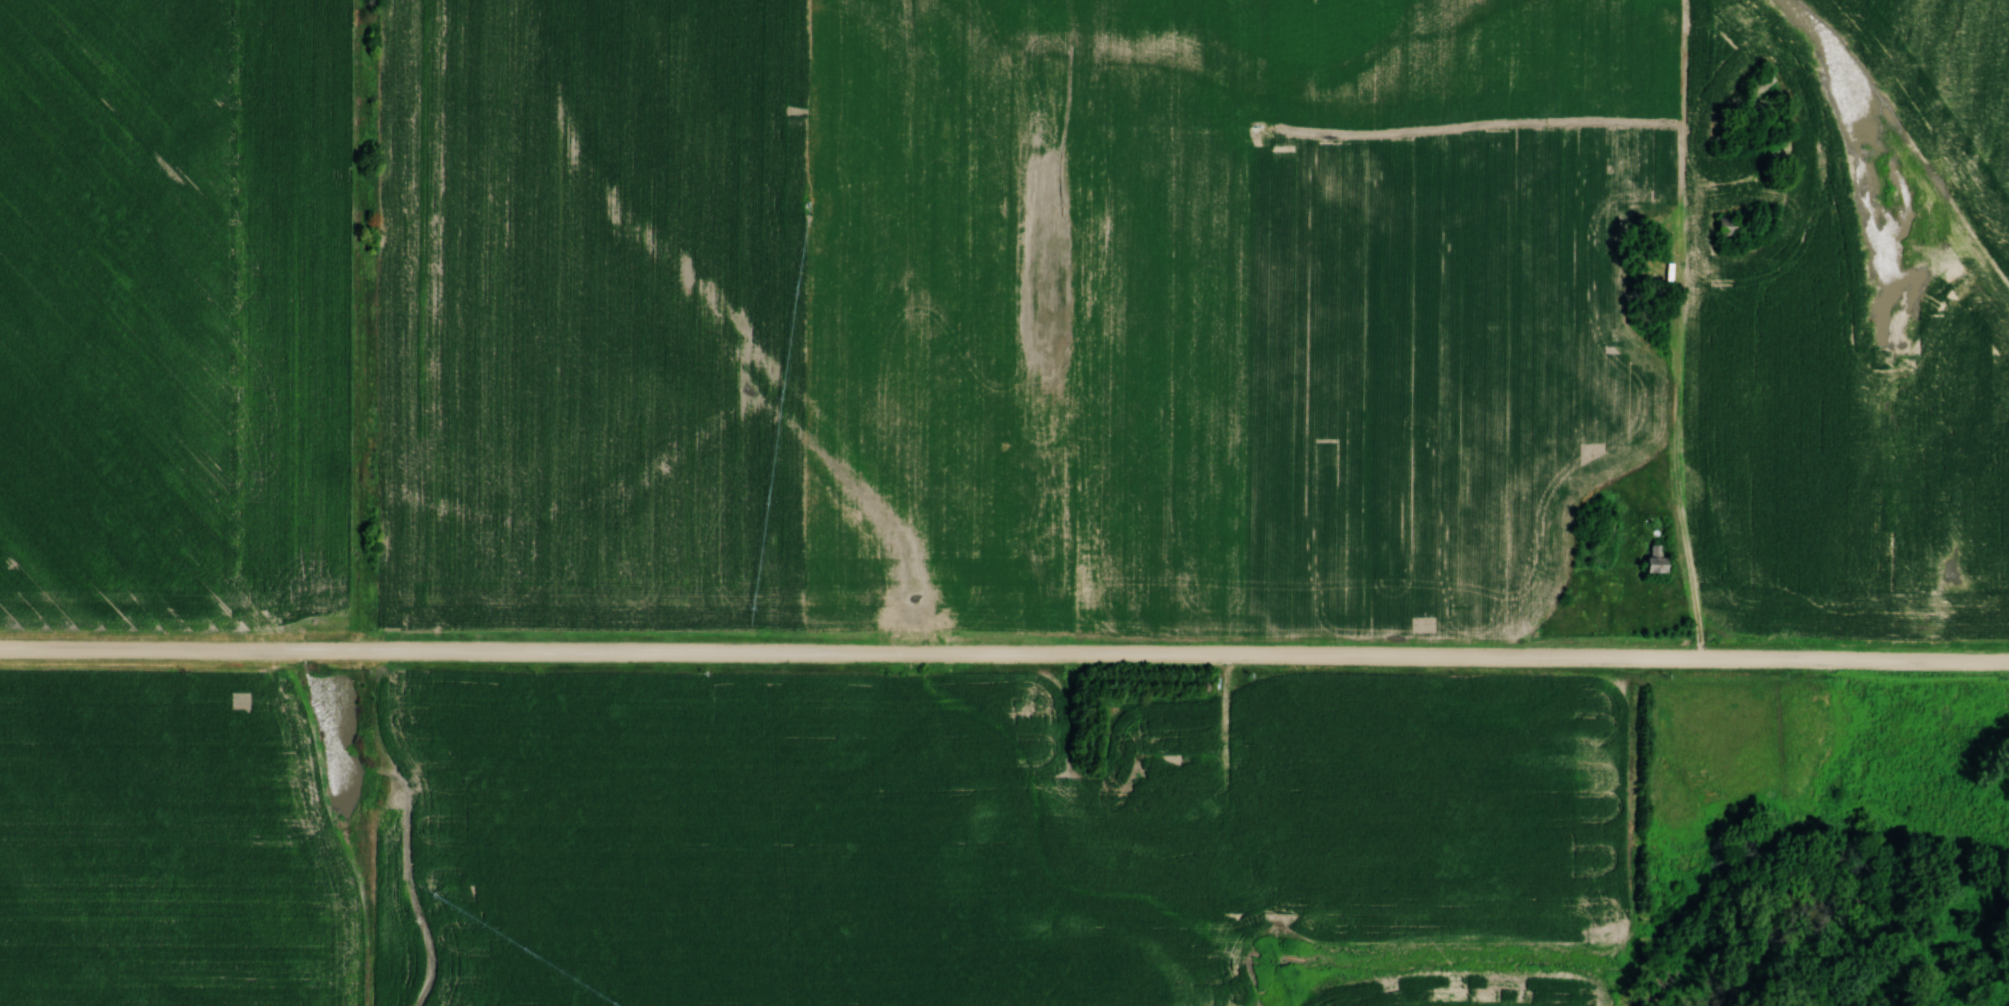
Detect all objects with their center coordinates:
building: (1762, 219)
building: (1722, 226)
building: (1651, 559)
road: (1004, 650)
road: (1229, 759)
building: (1137, 792)
building: (1261, 862)

